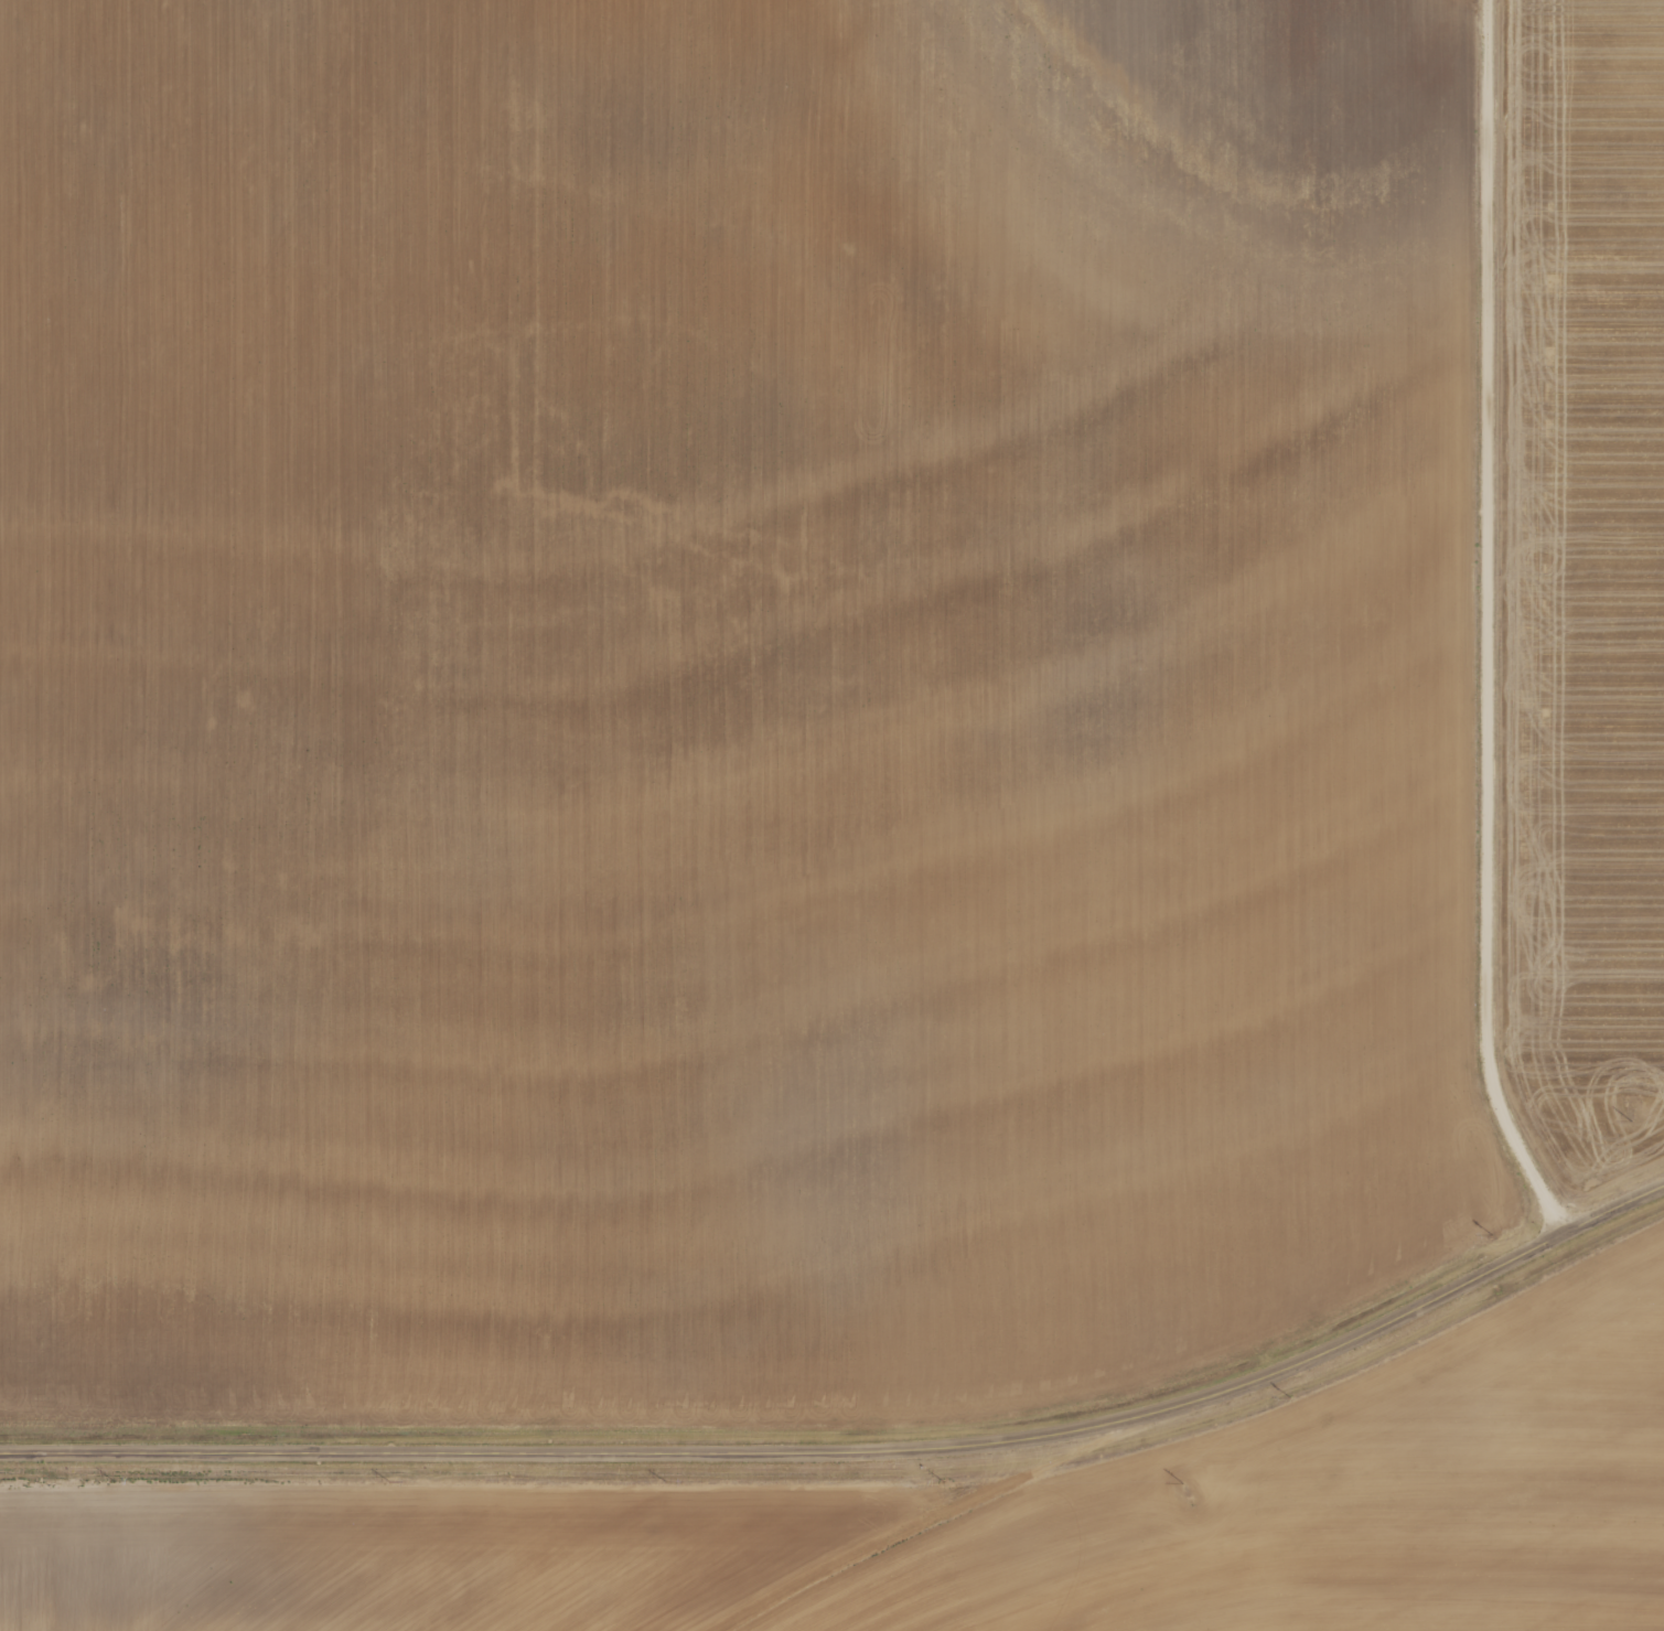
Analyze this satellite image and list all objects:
road: (1473, 636)
road: (859, 1458)

